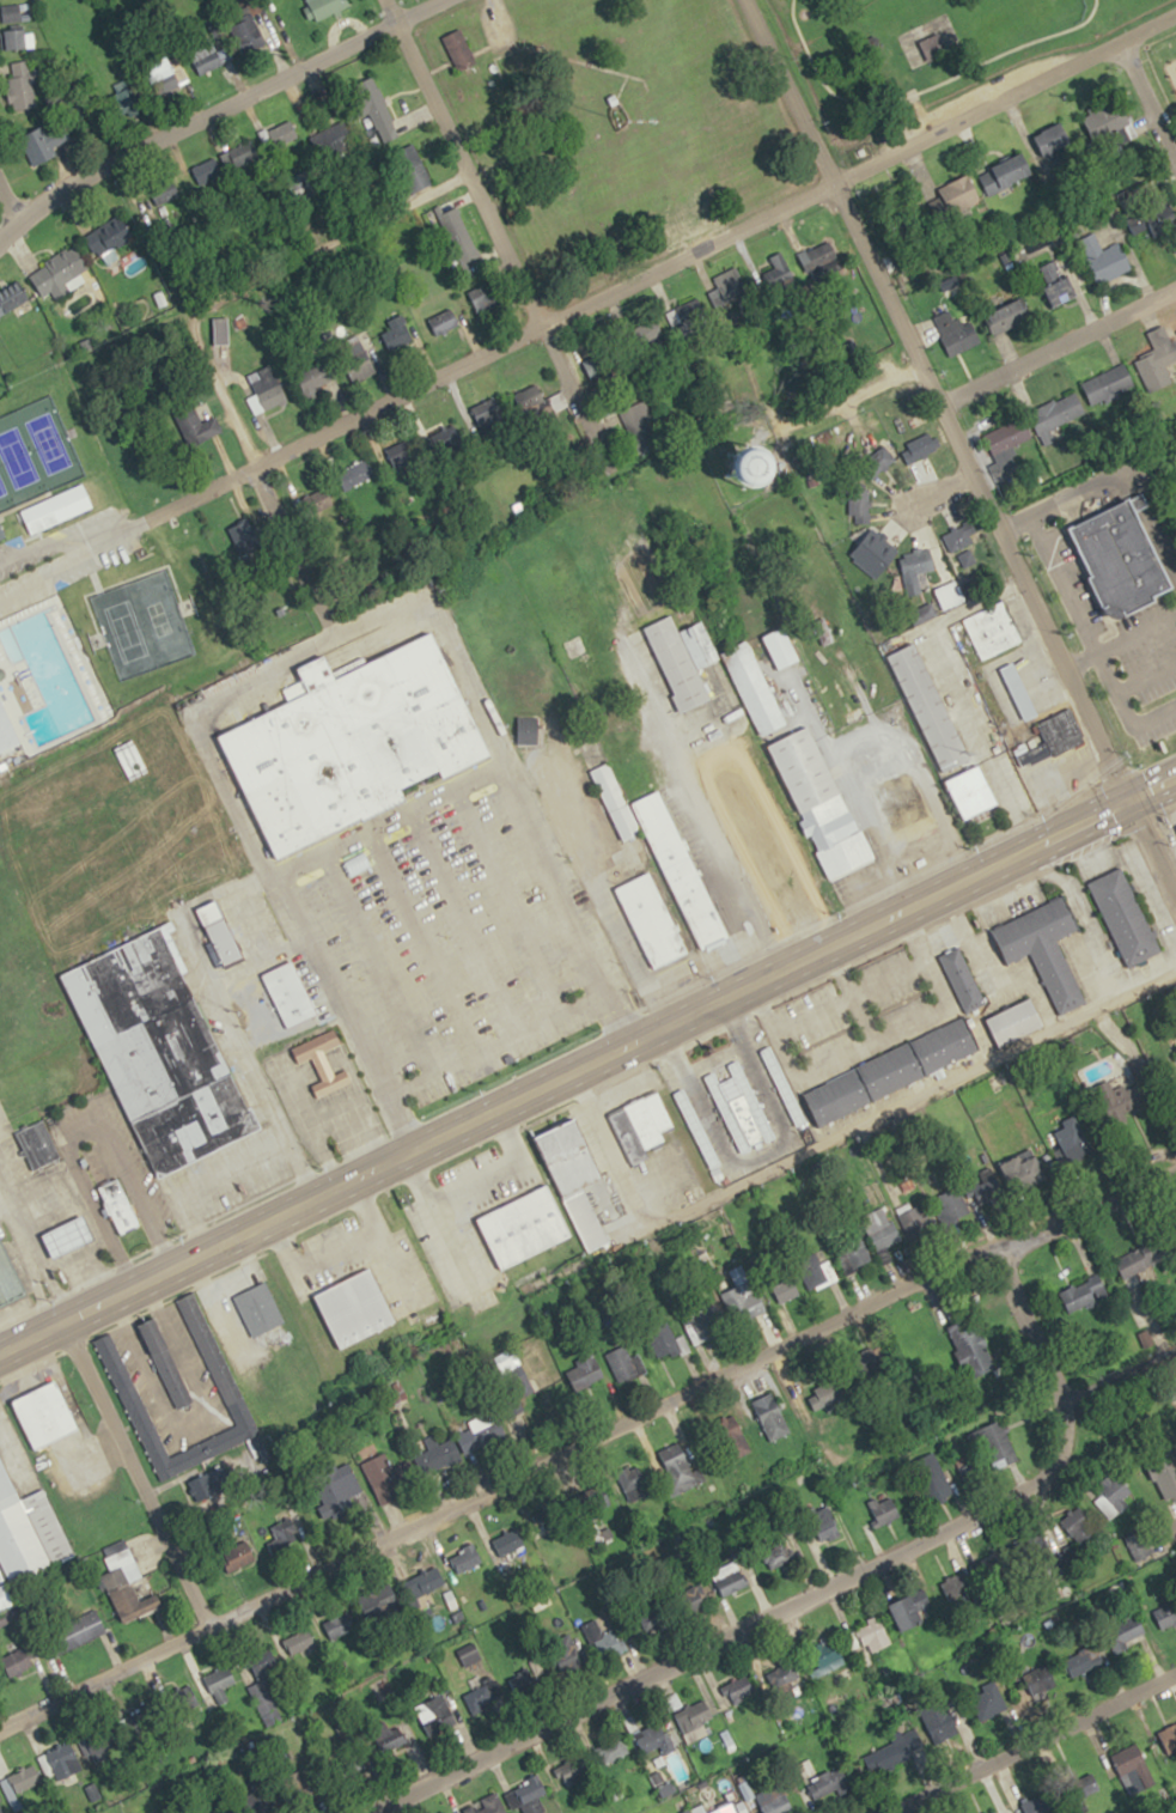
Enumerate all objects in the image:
building: (324, 7)
building: (13, 28)
building: (248, 34)
building: (932, 48)
building: (458, 50)
park: (921, 54)
building: (211, 59)
building: (22, 86)
road: (922, 90)
parking lot: (968, 96)
road: (1148, 96)
building: (376, 109)
road: (215, 111)
building: (1120, 128)
building: (288, 130)
building: (1053, 140)
building: (47, 142)
building: (224, 162)
building: (412, 168)
building: (1006, 174)
building: (304, 183)
building: (957, 188)
road: (8, 202)
building: (1152, 218)
building: (444, 224)
road: (494, 227)
building: (109, 236)
building: (1104, 257)
building: (821, 262)
building: (904, 262)
road: (657, 268)
building: (60, 274)
building: (1056, 282)
building: (731, 285)
building: (13, 298)
building: (687, 314)
building: (1007, 317)
building: (443, 321)
road: (188, 328)
building: (953, 330)
building: (650, 331)
building: (396, 335)
road: (1059, 345)
building: (357, 357)
building: (602, 365)
building: (316, 375)
building: (267, 388)
road: (938, 396)
building: (529, 399)
building: (487, 414)
building: (1056, 418)
building: (638, 424)
building: (196, 427)
building: (1007, 436)
building: (920, 446)
park: (33, 451)
building: (878, 458)
water tower: (752, 470)
building: (354, 475)
road: (931, 493)
building: (318, 501)
building: (858, 504)
building: (958, 536)
building: (1123, 553)
parking lot: (62, 554)
building: (947, 589)
building: (992, 629)
road: (304, 647)
parking lot: (1120, 647)
building: (681, 657)
road: (949, 686)
building: (754, 688)
building: (1019, 690)
building: (930, 706)
building: (526, 729)
building: (1060, 730)
building: (6, 734)
building: (353, 741)
building: (1034, 754)
building: (0, 771)
building: (742, 785)
building: (971, 791)
traffic signals: (1133, 793)
building: (615, 801)
building: (822, 801)
building: (908, 809)
road: (388, 817)
road: (1154, 836)
building: (626, 853)
building: (680, 871)
building: (775, 886)
building: (1125, 918)
building: (651, 920)
building: (220, 931)
parking lot: (452, 944)
building: (1042, 947)
building: (961, 979)
building: (290, 993)
building: (1014, 1022)
building: (159, 1053)
road: (586, 1057)
building: (322, 1061)
building: (890, 1071)
building: (781, 1085)
building: (1122, 1097)
building: (739, 1107)
building: (641, 1125)
building: (695, 1128)
building: (1072, 1139)
building: (36, 1145)
building: (1026, 1173)
building: (574, 1178)
building: (988, 1187)
building: (953, 1204)
building: (120, 1206)
road: (211, 1218)
building: (914, 1222)
building: (522, 1224)
building: (879, 1228)
building: (69, 1236)
building: (859, 1255)
building: (1141, 1255)
building: (816, 1270)
building: (8, 1280)
building: (1084, 1294)
road: (1013, 1296)
building: (743, 1302)
building: (355, 1307)
building: (257, 1308)
road: (1103, 1309)
building: (703, 1324)
building: (663, 1342)
building: (971, 1346)
building: (164, 1362)
building: (623, 1364)
building: (584, 1371)
building: (122, 1385)
building: (44, 1413)
building: (770, 1416)
building: (482, 1432)
road: (583, 1435)
building: (733, 1436)
building: (995, 1446)
building: (435, 1455)
building: (680, 1467)
building: (967, 1467)
road: (132, 1473)
building: (380, 1473)
building: (931, 1478)
building: (1166, 1479)
building: (635, 1482)
building: (208, 1484)
building: (342, 1496)
building: (1116, 1496)
building: (599, 1498)
building: (884, 1509)
building: (549, 1514)
building: (822, 1522)
building: (1078, 1523)
road: (1168, 1526)
building: (28, 1532)
building: (282, 1532)
building: (1043, 1545)
building: (1138, 1545)
building: (508, 1546)
building: (780, 1556)
building: (238, 1557)
building: (464, 1558)
building: (987, 1570)
building: (1, 1575)
building: (425, 1583)
building: (889, 1592)
building: (694, 1594)
building: (5, 1596)
building: (132, 1602)
road: (763, 1613)
building: (906, 1613)
building: (1165, 1614)
building: (1133, 1631)
building: (74, 1632)
building: (298, 1639)
building: (602, 1639)
building: (871, 1641)
building: (470, 1659)
building: (825, 1660)
building: (1080, 1661)
building: (17, 1662)
building: (782, 1674)
building: (219, 1679)
building: (522, 1681)
building: (738, 1687)
building: (264, 1695)
building: (480, 1696)
building: (441, 1712)
building: (694, 1718)
building: (654, 1738)
road: (1022, 1738)
building: (1169, 1738)
building: (611, 1750)
building: (886, 1756)
building: (47, 1763)
building: (572, 1772)
building: (828, 1783)
building: (18, 1785)
building: (530, 1788)
building: (262, 1800)
building: (774, 1800)
building: (492, 1803)
building: (723, 1806)
road: (886, 1808)

